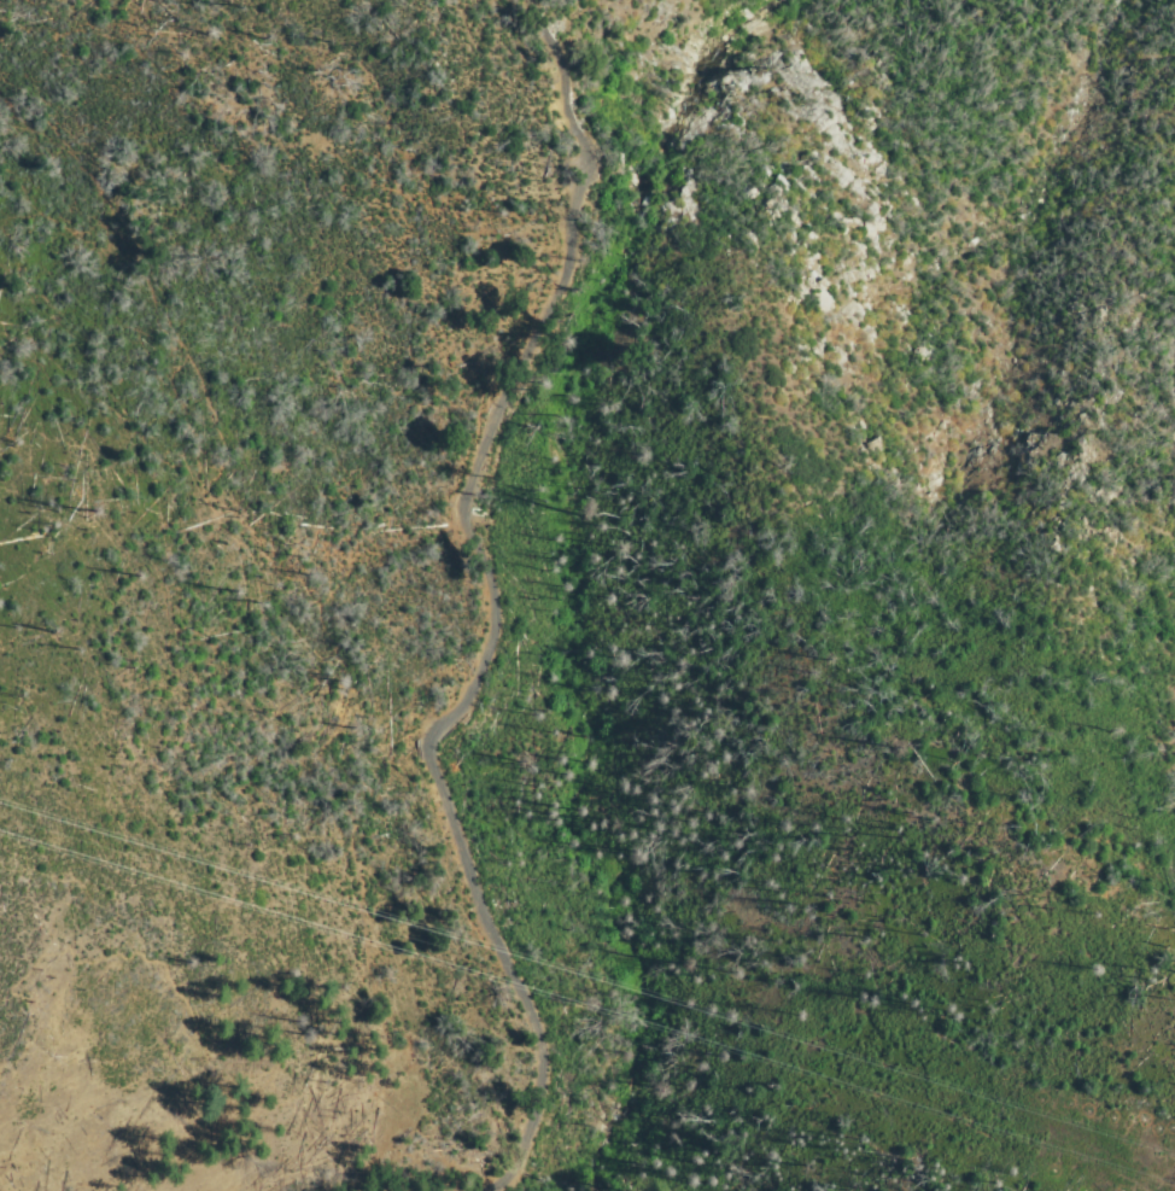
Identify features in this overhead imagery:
road: (479, 617)

